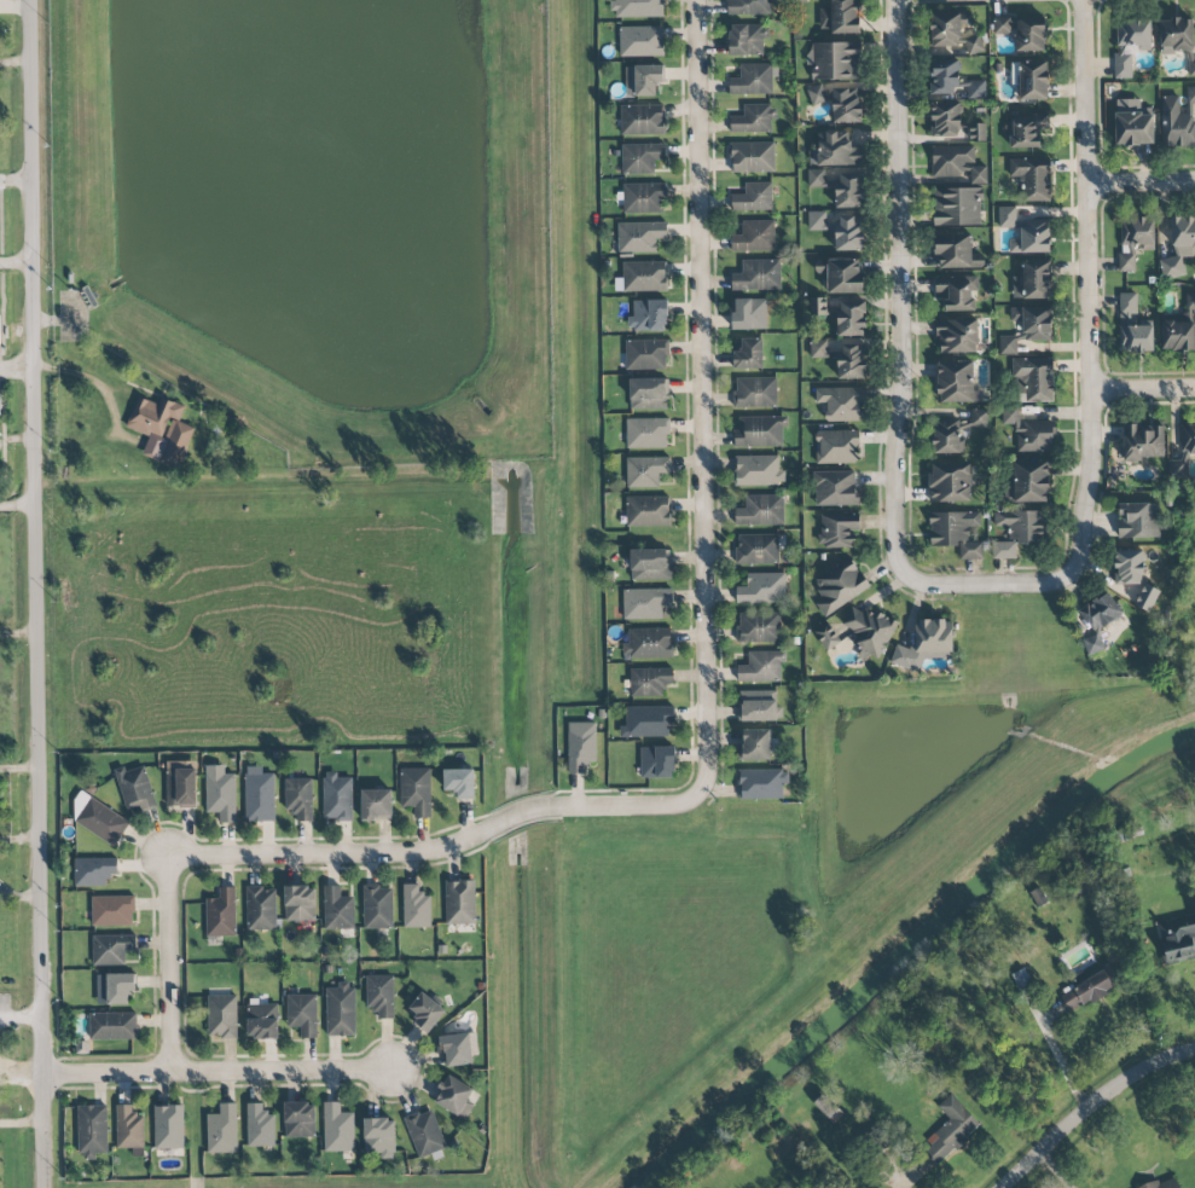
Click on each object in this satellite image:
building: (748, 7)
building: (637, 8)
building: (840, 17)
building: (947, 28)
building: (1022, 31)
building: (1176, 35)
building: (747, 40)
building: (640, 41)
building: (973, 44)
building: (1129, 44)
road: (14, 60)
building: (835, 60)
building: (1191, 68)
building: (945, 76)
building: (643, 80)
building: (752, 80)
building: (1031, 80)
building: (976, 89)
building: (814, 94)
building: (845, 105)
building: (753, 118)
building: (642, 120)
building: (1178, 120)
building: (953, 123)
building: (1132, 124)
building: (1025, 129)
building: (834, 151)
building: (640, 157)
building: (752, 157)
building: (952, 162)
building: (978, 174)
building: (816, 178)
building: (1032, 178)
road: (1141, 181)
building: (849, 190)
building: (643, 197)
building: (753, 198)
building: (957, 207)
building: (1007, 216)
building: (839, 230)
building: (639, 237)
building: (754, 237)
building: (1032, 237)
building: (1135, 239)
building: (1179, 247)
building: (956, 253)
road: (16, 263)
building: (758, 276)
building: (843, 276)
building: (644, 277)
building: (1033, 280)
road: (899, 285)
road: (1089, 288)
building: (958, 292)
building: (1190, 301)
building: (749, 314)
building: (648, 315)
building: (843, 315)
building: (1027, 328)
building: (1132, 328)
building: (1178, 331)
building: (957, 336)
building: (645, 354)
building: (748, 354)
building: (842, 358)
road: (16, 365)
building: (1032, 379)
building: (955, 382)
road: (1143, 387)
road: (97, 389)
building: (755, 393)
building: (648, 394)
road: (690, 396)
building: (841, 402)
building: (0, 406)
building: (979, 418)
building: (161, 429)
building: (759, 431)
building: (1029, 431)
building: (646, 433)
building: (946, 436)
building: (1187, 439)
building: (1143, 441)
building: (836, 447)
building: (758, 470)
building: (1177, 470)
building: (646, 471)
building: (1028, 482)
building: (950, 483)
building: (835, 488)
road: (17, 505)
building: (648, 511)
building: (760, 511)
building: (1138, 520)
building: (837, 529)
building: (1017, 532)
building: (956, 533)
building: (758, 549)
building: (650, 564)
building: (1129, 567)
road: (984, 584)
building: (839, 587)
building: (762, 590)
road: (36, 593)
building: (1147, 597)
building: (645, 603)
building: (1098, 619)
building: (758, 627)
building: (869, 630)
building: (826, 636)
building: (648, 643)
building: (926, 644)
building: (761, 667)
building: (649, 682)
building: (758, 706)
building: (646, 722)
building: (580, 746)
building: (754, 746)
building: (656, 763)
building: (459, 782)
building: (181, 783)
building: (761, 783)
building: (135, 788)
building: (416, 790)
building: (220, 793)
building: (259, 795)
building: (337, 796)
building: (298, 799)
building: (376, 804)
road: (619, 804)
building: (99, 819)
road: (19, 839)
road: (365, 853)
building: (94, 870)
building: (300, 903)
building: (459, 903)
building: (378, 906)
building: (260, 908)
building: (416, 908)
building: (337, 909)
building: (112, 910)
building: (221, 914)
building: (1177, 939)
building: (112, 949)
road: (170, 966)
building: (115, 989)
building: (1085, 991)
building: (379, 995)
building: (340, 1009)
building: (425, 1012)
building: (302, 1013)
building: (221, 1016)
road: (21, 1018)
building: (262, 1020)
building: (112, 1026)
building: (456, 1049)
road: (217, 1071)
building: (453, 1096)
road: (1087, 1103)
building: (298, 1119)
road: (21, 1122)
building: (168, 1126)
building: (260, 1126)
building: (128, 1128)
building: (337, 1129)
building: (92, 1130)
building: (222, 1130)
building: (950, 1130)
building: (424, 1132)
building: (379, 1137)
building: (1164, 1183)

